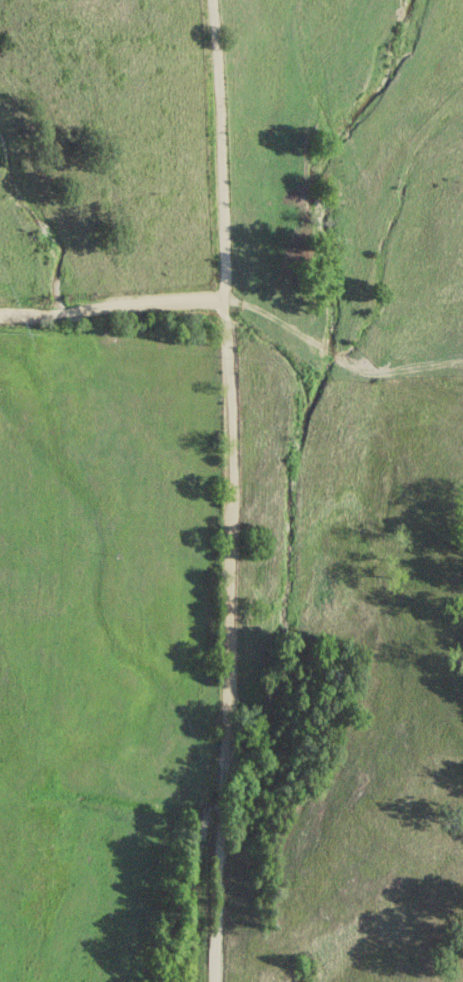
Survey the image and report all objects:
road: (93, 306)
road: (319, 383)
road: (186, 490)

